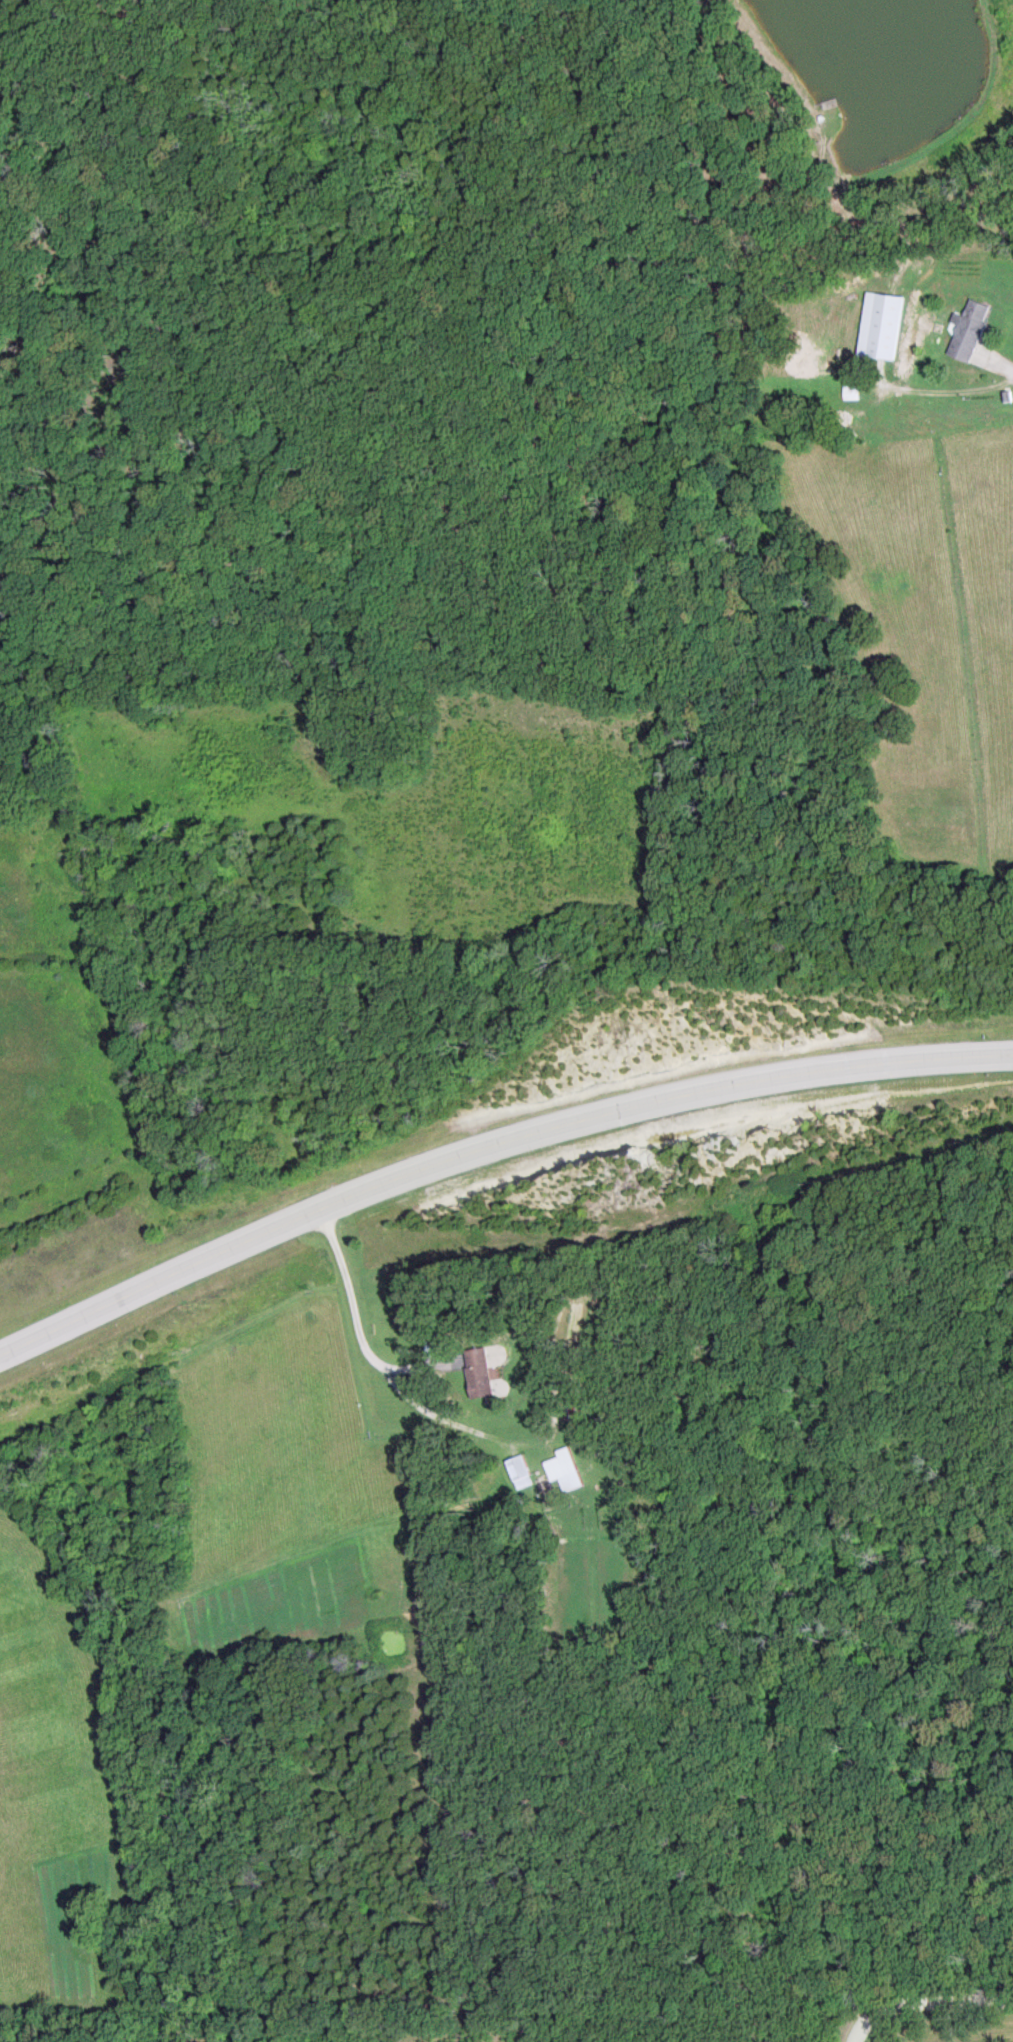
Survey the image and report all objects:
building: (886, 327)
building: (971, 330)
road: (1002, 357)
building: (889, 418)
road: (488, 1145)
building: (480, 1374)
building: (566, 1470)
building: (520, 1473)
road: (925, 2003)

